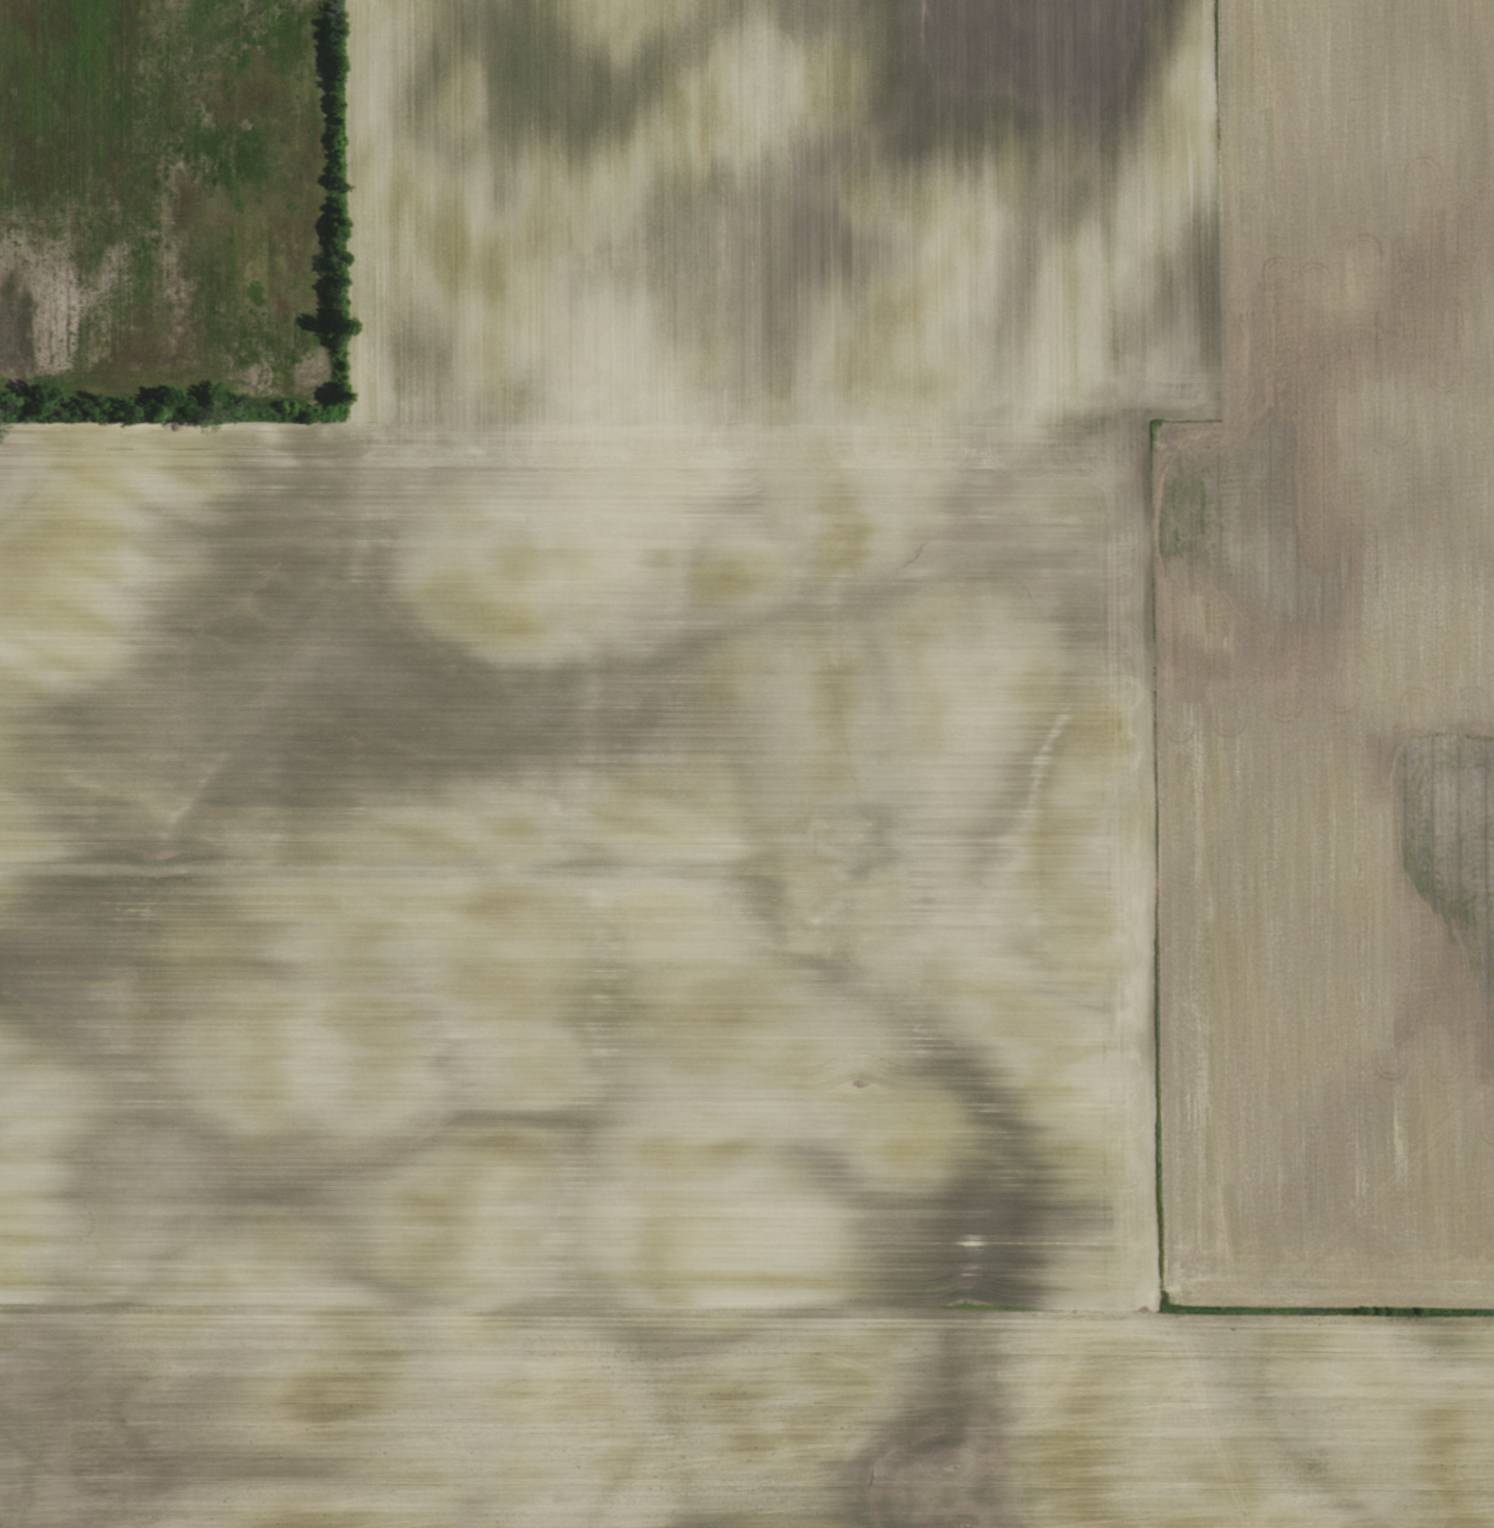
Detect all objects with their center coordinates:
road: (415, 869)

